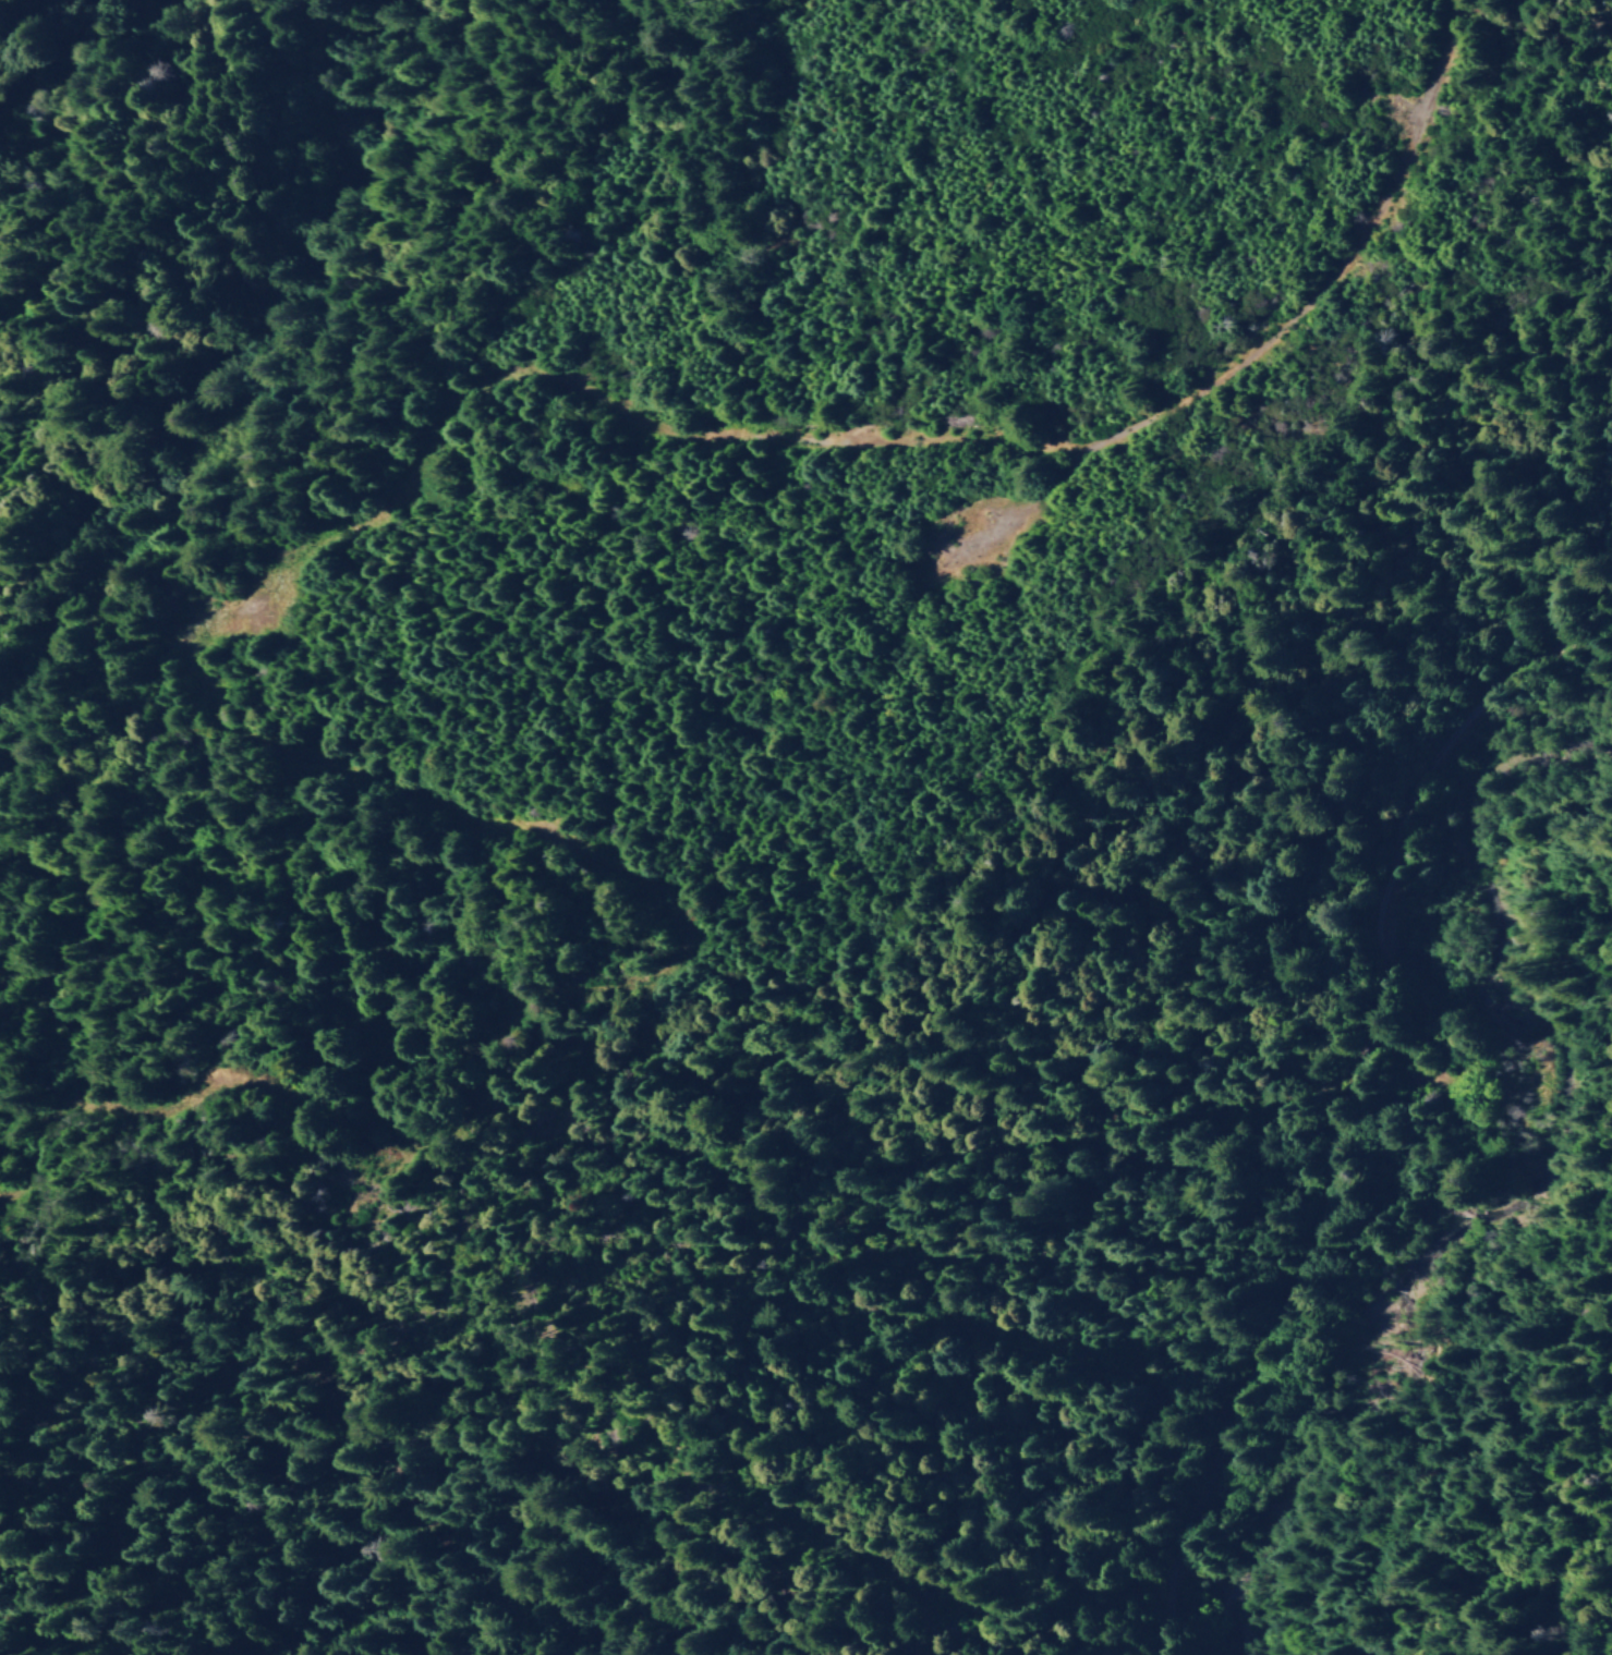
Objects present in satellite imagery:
road: (1420, 1129)

